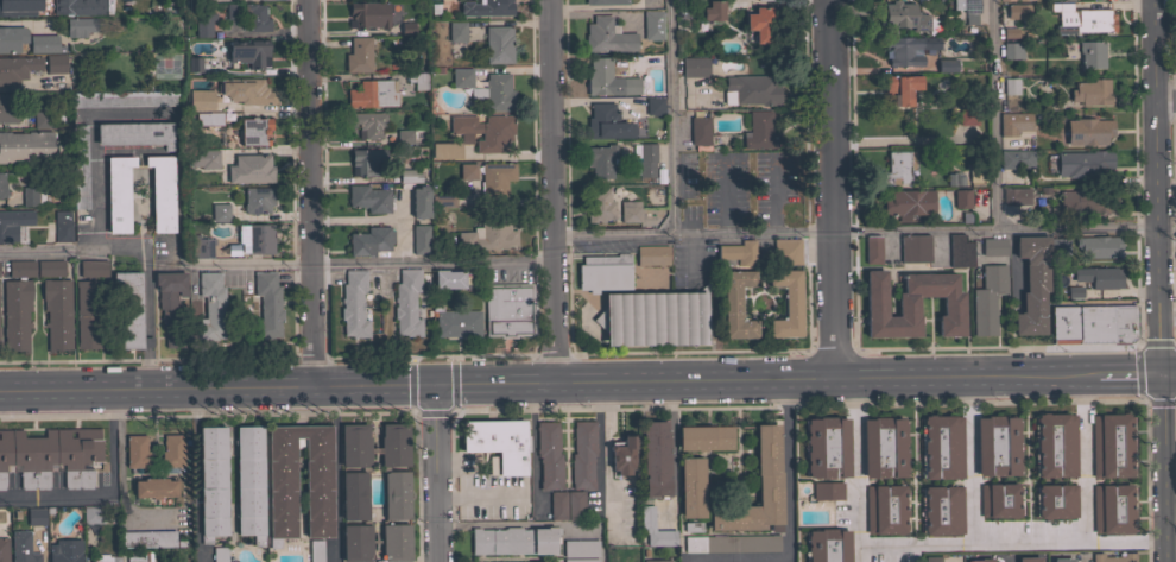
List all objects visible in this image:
building: (440, 0)
building: (764, 0)
building: (1006, 0)
building: (1020, 0)
building: (605, 1)
building: (1175, 6)
building: (78, 7)
building: (486, 7)
building: (7, 8)
building: (967, 8)
building: (683, 10)
building: (713, 11)
building: (1017, 11)
building: (368, 14)
building: (255, 17)
building: (902, 17)
building: (1081, 19)
building: (760, 23)
building: (203, 24)
building: (651, 25)
building: (82, 26)
road: (264, 31)
building: (402, 31)
building: (456, 31)
building: (1006, 34)
building: (607, 37)
building: (11, 38)
building: (44, 44)
building: (498, 44)
building: (908, 50)
building: (1012, 50)
building: (248, 52)
building: (1090, 53)
building: (359, 55)
building: (1175, 59)
building: (55, 63)
building: (194, 64)
building: (947, 65)
building: (694, 67)
building: (17, 68)
building: (461, 77)
building: (417, 80)
building: (607, 80)
building: (1010, 86)
building: (900, 88)
building: (750, 90)
building: (246, 91)
building: (1092, 93)
building: (372, 94)
building: (493, 94)
building: (125, 99)
road: (1165, 99)
building: (201, 100)
building: (655, 106)
building: (8, 108)
road: (994, 114)
road: (670, 116)
building: (965, 116)
building: (209, 119)
building: (40, 120)
building: (1012, 122)
building: (367, 124)
building: (606, 124)
building: (254, 131)
building: (485, 131)
building: (760, 131)
building: (1088, 131)
building: (698, 132)
building: (135, 134)
building: (404, 137)
building: (26, 147)
building: (445, 151)
building: (203, 158)
building: (644, 159)
building: (1016, 159)
building: (601, 160)
building: (366, 162)
building: (1083, 164)
building: (80, 168)
building: (898, 168)
building: (251, 169)
building: (976, 175)
building: (409, 176)
building: (489, 176)
building: (955, 178)
building: (2, 185)
road: (1157, 187)
road: (829, 188)
road: (554, 190)
road: (309, 191)
building: (162, 192)
building: (118, 194)
building: (31, 196)
building: (1013, 196)
building: (369, 198)
building: (961, 198)
building: (258, 200)
building: (443, 201)
building: (419, 202)
building: (909, 202)
building: (1083, 202)
building: (599, 204)
building: (220, 211)
building: (630, 211)
building: (13, 223)
building: (62, 226)
road: (855, 228)
building: (488, 235)
building: (259, 239)
building: (421, 239)
building: (371, 241)
building: (1060, 246)
building: (1098, 246)
building: (201, 247)
building: (915, 247)
building: (993, 247)
road: (112, 248)
building: (872, 250)
building: (786, 251)
building: (959, 251)
building: (738, 252)
building: (652, 255)
road: (384, 261)
building: (1175, 265)
building: (50, 267)
building: (93, 267)
building: (21, 269)
building: (603, 273)
building: (1099, 277)
building: (448, 279)
building: (1031, 284)
building: (1074, 293)
building: (987, 298)
building: (170, 302)
building: (406, 303)
building: (353, 304)
building: (735, 304)
building: (786, 304)
building: (911, 304)
building: (267, 305)
building: (211, 307)
building: (129, 308)
building: (508, 309)
road: (1168, 311)
building: (15, 314)
building: (57, 314)
building: (88, 314)
building: (652, 318)
building: (455, 323)
building: (1092, 323)
road: (146, 341)
road: (146, 366)
road: (1168, 373)
road: (1137, 374)
traffic signals: (1161, 374)
road: (556, 379)
traffic signals: (434, 383)
road: (434, 410)
building: (704, 437)
building: (498, 444)
building: (1055, 444)
building: (1112, 444)
building: (354, 446)
building: (393, 446)
road: (671, 446)
building: (997, 446)
building: (941, 447)
building: (827, 448)
building: (883, 448)
building: (974, 448)
building: (172, 450)
building: (135, 452)
building: (582, 454)
building: (621, 454)
building: (548, 455)
building: (50, 456)
building: (1174, 456)
building: (655, 459)
road: (1082, 459)
road: (970, 460)
road: (855, 461)
road: (1162, 468)
road: (436, 472)
road: (334, 473)
road: (121, 474)
road: (195, 474)
building: (213, 482)
building: (249, 482)
building: (154, 487)
building: (691, 487)
building: (770, 491)
building: (827, 491)
building: (282, 492)
building: (353, 495)
building: (397, 495)
road: (109, 497)
building: (1000, 499)
building: (1055, 500)
building: (557, 505)
building: (575, 505)
building: (886, 509)
building: (1113, 509)
building: (941, 510)
building: (90, 514)
building: (36, 516)
building: (646, 517)
road: (786, 520)
road: (1169, 522)
road: (537, 523)
building: (688, 529)
building: (148, 538)
building: (513, 541)
building: (396, 542)
road: (1009, 542)
building: (356, 543)
building: (732, 543)
building: (827, 545)
building: (23, 548)
building: (580, 548)
building: (4, 549)
building: (316, 550)
building: (63, 551)
building: (220, 554)
road: (856, 554)
building: (139, 556)
building: (1114, 557)
building: (102, 558)
building: (115, 558)
building: (932, 558)
building: (1029, 558)
building: (580, 560)
building: (981, 560)
building: (1062, 560)
building: (388, 561)
building: (656, 561)

